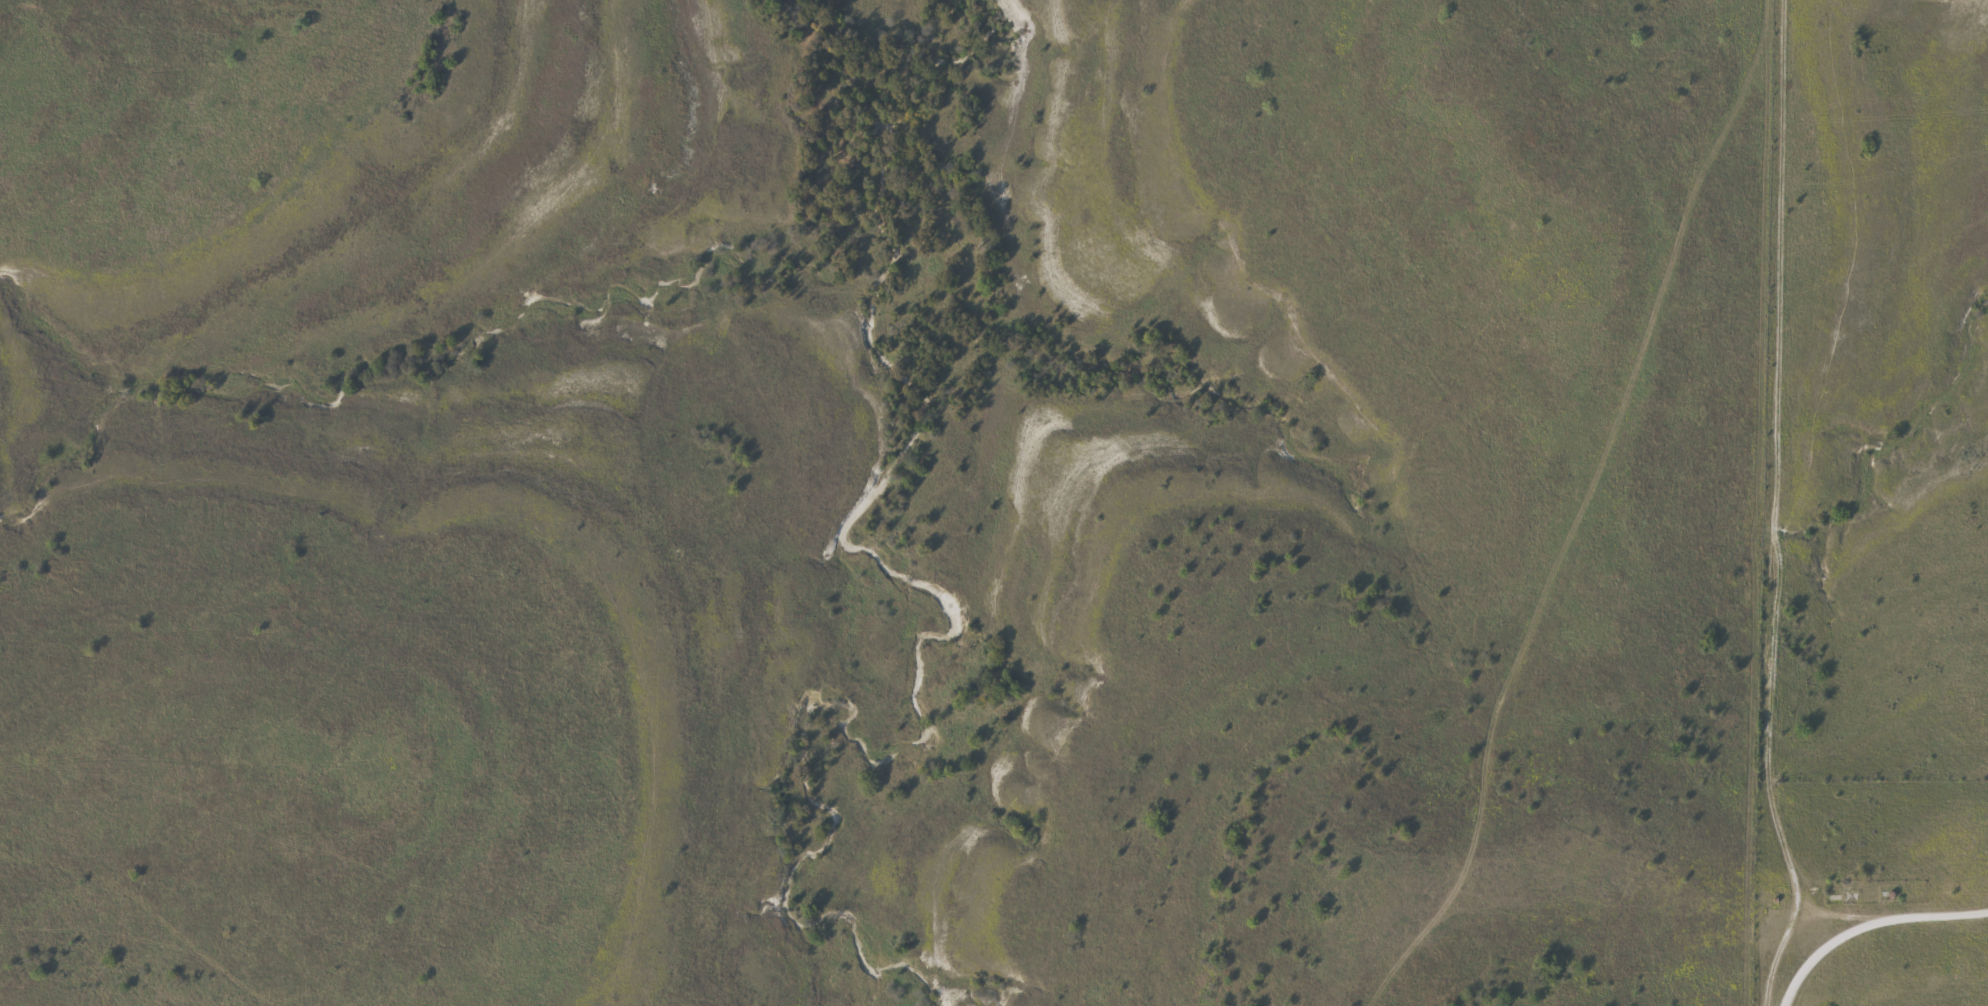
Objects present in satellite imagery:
road: (1865, 926)

